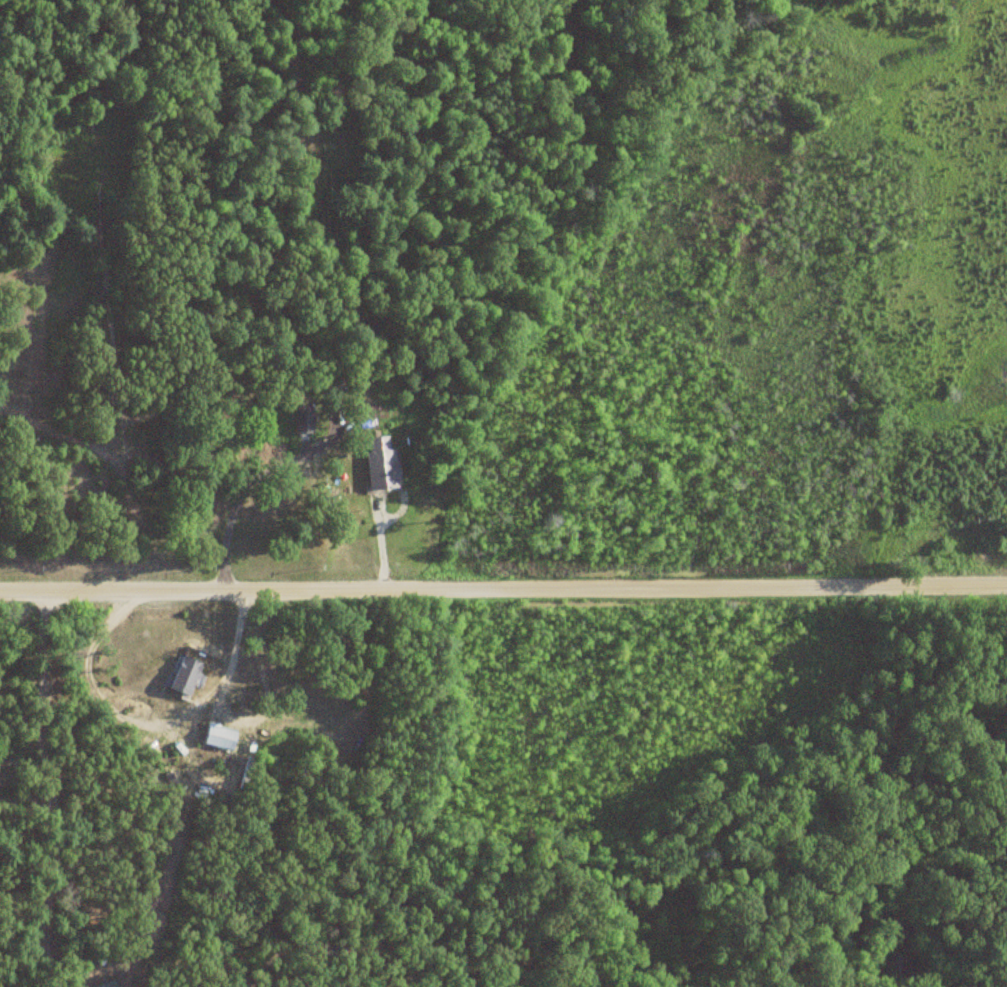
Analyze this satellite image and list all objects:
building: (302, 421)
building: (380, 465)
road: (227, 506)
road: (503, 587)
building: (183, 677)
road: (156, 722)
building: (216, 737)
road: (57, 785)
building: (105, 984)

